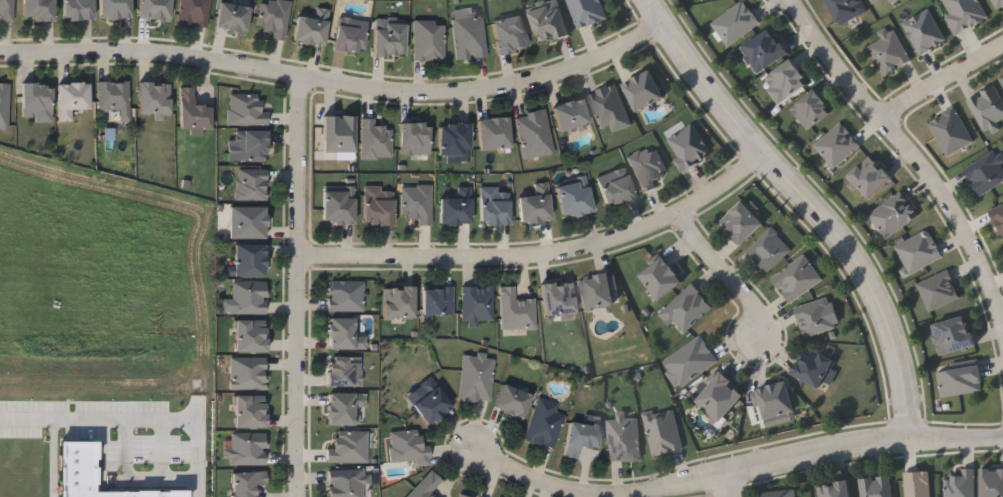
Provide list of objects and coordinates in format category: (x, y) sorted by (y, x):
building: (877, 2)
building: (115, 8)
building: (7, 9)
building: (38, 9)
building: (78, 9)
building: (155, 9)
building: (848, 9)
building: (194, 11)
building: (587, 12)
building: (965, 14)
building: (233, 15)
building: (274, 17)
building: (549, 20)
building: (312, 27)
building: (350, 34)
building: (468, 34)
building: (510, 35)
building: (389, 37)
building: (428, 40)
building: (765, 51)
building: (889, 52)
road: (991, 52)
building: (1002, 78)
road: (336, 80)
building: (787, 81)
road: (929, 85)
building: (644, 90)
building: (71, 97)
building: (114, 97)
building: (154, 98)
building: (36, 101)
building: (4, 104)
building: (609, 107)
building: (245, 108)
building: (987, 108)
building: (812, 110)
building: (193, 111)
building: (570, 113)
building: (339, 133)
building: (494, 133)
building: (534, 133)
building: (953, 133)
building: (414, 137)
building: (454, 138)
building: (375, 139)
building: (251, 145)
building: (688, 146)
road: (913, 153)
building: (647, 167)
building: (988, 174)
building: (870, 177)
building: (251, 183)
building: (616, 186)
building: (574, 196)
building: (417, 202)
building: (339, 204)
building: (536, 204)
building: (378, 205)
building: (495, 205)
road: (810, 205)
building: (456, 207)
building: (998, 215)
building: (248, 222)
building: (742, 222)
building: (769, 248)
road: (544, 254)
building: (250, 259)
road: (724, 271)
building: (660, 276)
building: (797, 277)
road: (297, 286)
building: (939, 290)
building: (596, 291)
building: (344, 294)
building: (248, 297)
building: (558, 298)
building: (437, 300)
building: (398, 301)
building: (477, 303)
building: (686, 308)
building: (516, 310)
building: (816, 316)
building: (341, 333)
building: (251, 335)
building: (955, 337)
building: (691, 360)
building: (815, 367)
building: (344, 371)
building: (248, 372)
building: (476, 378)
building: (720, 397)
building: (513, 400)
building: (775, 400)
building: (431, 401)
building: (344, 407)
building: (249, 411)
road: (133, 422)
building: (544, 423)
building: (663, 433)
building: (581, 437)
building: (624, 439)
road: (989, 439)
building: (348, 447)
building: (407, 447)
building: (248, 448)
road: (55, 459)
road: (136, 473)
road: (721, 474)
building: (247, 482)
building: (346, 482)
building: (992, 482)
building: (425, 485)
road: (728, 485)
building: (963, 485)
building: (875, 486)
building: (835, 490)
building: (780, 493)
building: (462, 495)

